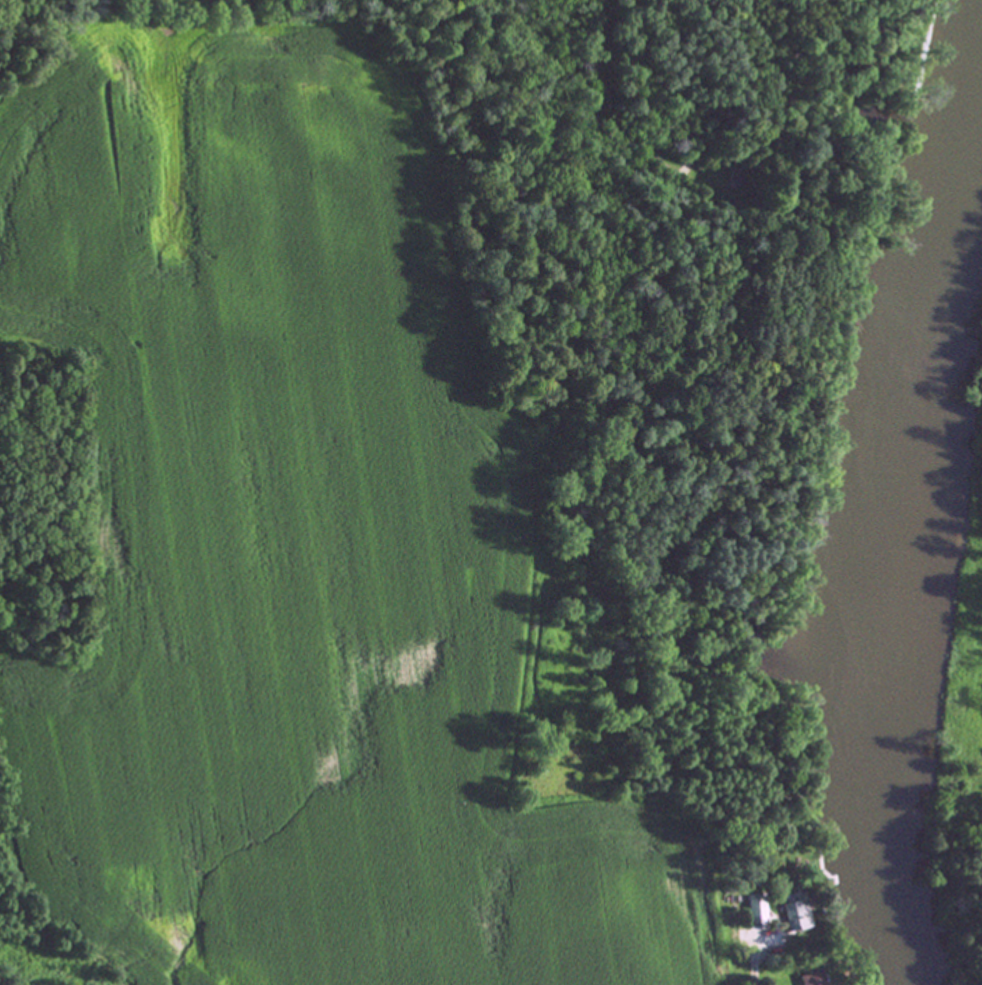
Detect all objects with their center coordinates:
road: (595, 119)
river: (869, 564)
building: (754, 912)
building: (795, 916)
road: (751, 972)
building: (809, 979)

